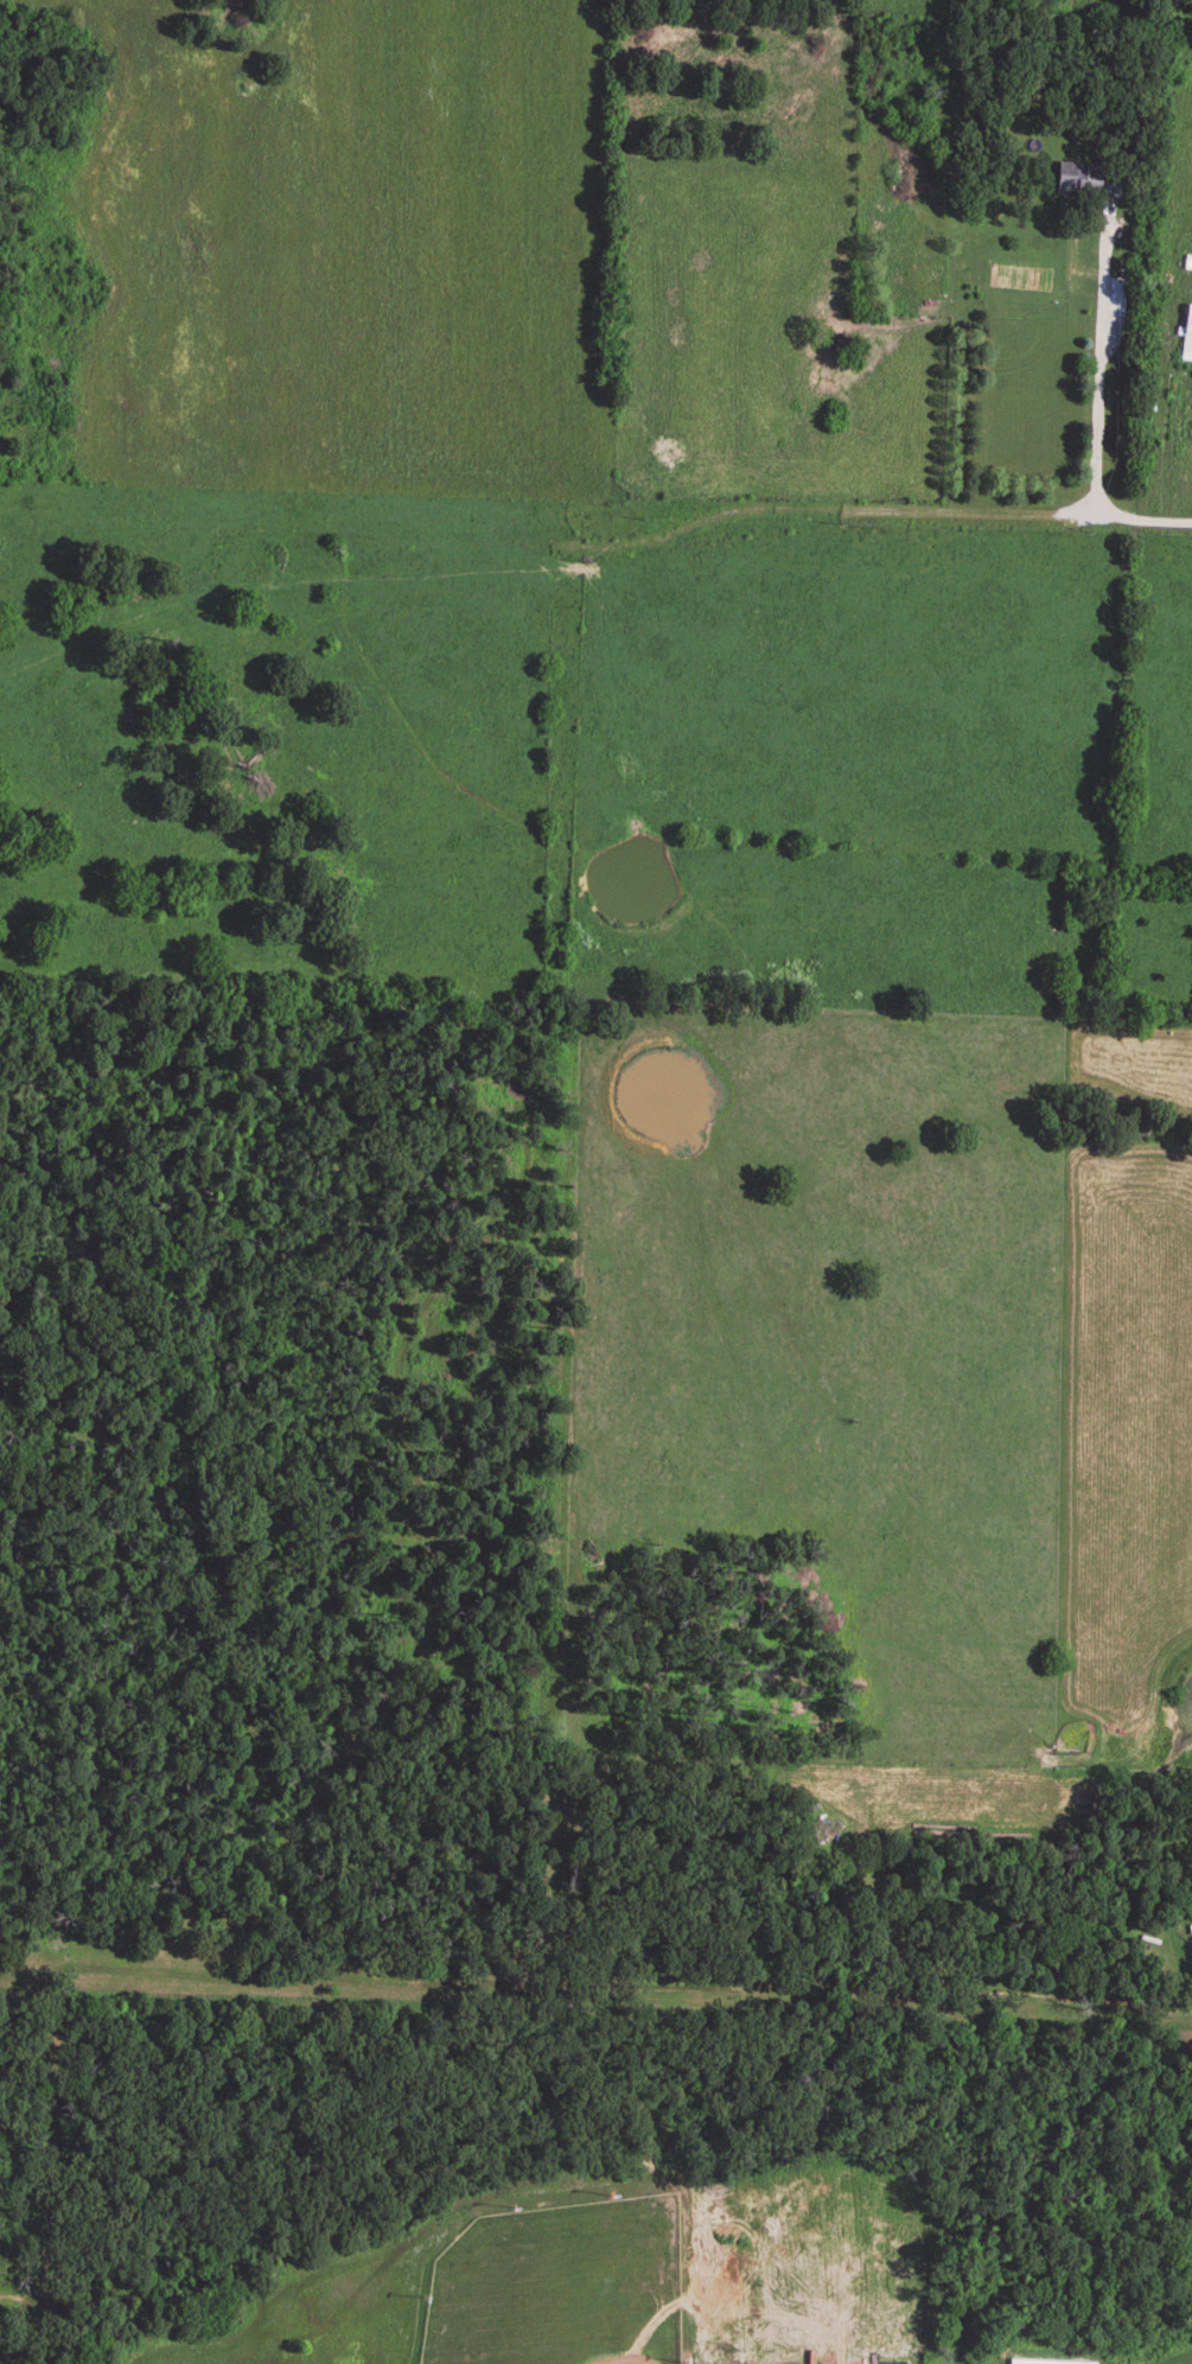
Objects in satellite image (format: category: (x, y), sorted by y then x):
building: (1085, 181)
road: (1097, 369)
road: (780, 510)

